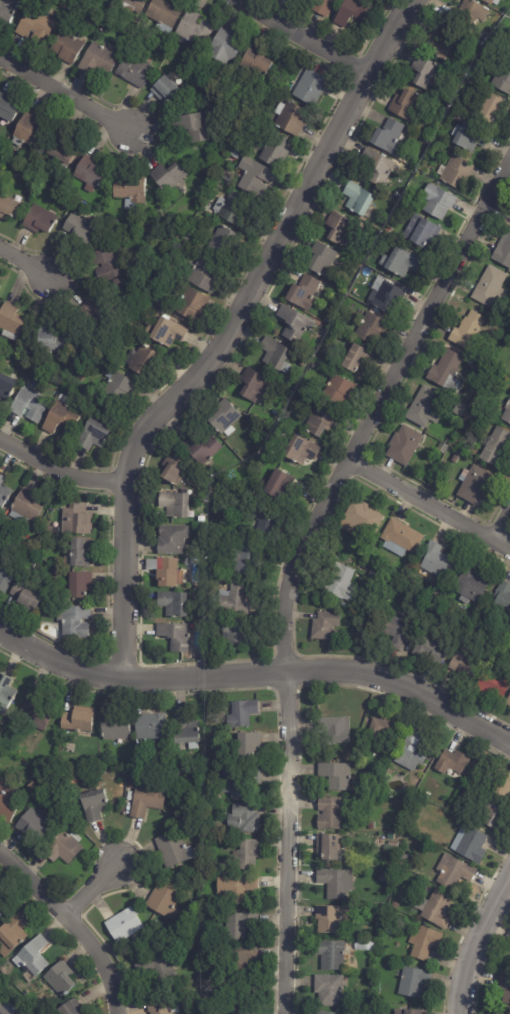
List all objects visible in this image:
building: (491, 2)
building: (62, 5)
building: (132, 5)
building: (320, 6)
building: (7, 12)
building: (71, 13)
building: (352, 13)
building: (163, 14)
building: (469, 15)
building: (35, 23)
building: (193, 29)
road: (297, 37)
building: (148, 40)
building: (134, 45)
building: (224, 46)
building: (443, 46)
building: (66, 48)
building: (97, 60)
building: (258, 61)
building: (166, 64)
building: (133, 70)
building: (423, 72)
building: (472, 75)
building: (502, 79)
building: (309, 88)
building: (165, 91)
road: (67, 94)
building: (404, 103)
building: (6, 109)
building: (490, 109)
building: (292, 120)
building: (191, 127)
building: (26, 131)
building: (389, 136)
building: (470, 138)
building: (425, 140)
building: (0, 143)
building: (58, 151)
building: (274, 151)
building: (234, 155)
building: (375, 166)
building: (421, 169)
building: (455, 172)
building: (89, 174)
building: (167, 175)
building: (254, 177)
building: (130, 192)
building: (357, 201)
building: (439, 203)
building: (8, 210)
building: (232, 211)
building: (39, 221)
building: (407, 223)
building: (79, 229)
building: (338, 229)
building: (424, 235)
building: (379, 241)
building: (224, 243)
building: (181, 248)
building: (503, 250)
building: (320, 260)
road: (24, 262)
building: (399, 263)
building: (107, 264)
building: (357, 264)
building: (371, 272)
building: (203, 275)
building: (488, 287)
building: (302, 293)
building: (385, 297)
building: (190, 303)
building: (85, 313)
building: (10, 322)
building: (327, 323)
building: (294, 325)
building: (370, 328)
road: (228, 331)
building: (466, 331)
building: (166, 333)
building: (49, 339)
building: (274, 355)
building: (356, 359)
building: (141, 361)
building: (302, 362)
building: (498, 366)
building: (446, 371)
building: (480, 376)
building: (115, 385)
building: (252, 385)
building: (6, 387)
building: (337, 392)
building: (28, 405)
building: (424, 408)
building: (506, 414)
building: (61, 416)
building: (223, 416)
building: (319, 422)
building: (265, 434)
building: (92, 436)
building: (403, 446)
building: (442, 448)
building: (201, 449)
building: (495, 449)
building: (303, 452)
building: (455, 458)
road: (60, 471)
building: (172, 471)
building: (274, 485)
building: (473, 485)
building: (3, 492)
building: (173, 506)
building: (25, 511)
road: (427, 517)
building: (201, 519)
building: (75, 521)
building: (360, 522)
building: (263, 525)
road: (501, 537)
building: (400, 539)
building: (170, 541)
building: (29, 545)
road: (292, 553)
building: (80, 555)
building: (245, 560)
building: (204, 563)
building: (436, 563)
building: (165, 573)
building: (5, 575)
building: (371, 577)
building: (400, 580)
building: (341, 583)
building: (78, 585)
building: (469, 585)
building: (41, 589)
building: (24, 596)
building: (234, 600)
building: (502, 602)
building: (175, 605)
building: (74, 622)
building: (323, 626)
building: (395, 632)
building: (233, 634)
building: (174, 637)
building: (432, 651)
building: (462, 666)
road: (257, 671)
building: (491, 686)
building: (5, 692)
building: (508, 702)
building: (37, 707)
building: (241, 714)
building: (78, 720)
building: (150, 726)
building: (115, 728)
building: (382, 728)
building: (335, 729)
building: (186, 730)
building: (246, 746)
building: (414, 749)
building: (451, 762)
building: (335, 775)
building: (36, 777)
building: (131, 779)
building: (239, 782)
building: (502, 784)
building: (464, 786)
building: (425, 798)
building: (376, 799)
building: (146, 800)
building: (8, 803)
building: (93, 804)
building: (197, 811)
building: (492, 812)
building: (330, 813)
building: (243, 819)
building: (416, 819)
building: (34, 825)
building: (371, 826)
building: (415, 826)
building: (393, 844)
building: (470, 845)
building: (62, 847)
building: (329, 848)
building: (173, 849)
building: (262, 852)
building: (247, 855)
building: (453, 871)
building: (403, 874)
building: (384, 877)
building: (333, 883)
building: (235, 887)
road: (92, 889)
building: (163, 900)
building: (206, 902)
building: (192, 903)
building: (3, 905)
building: (395, 906)
building: (435, 909)
building: (381, 911)
building: (330, 919)
road: (73, 922)
building: (123, 925)
building: (238, 925)
building: (194, 927)
building: (387, 930)
building: (11, 933)
building: (424, 943)
road: (475, 943)
building: (330, 955)
building: (239, 956)
building: (32, 957)
building: (157, 969)
building: (60, 978)
building: (413, 982)
building: (504, 989)
building: (328, 990)
building: (240, 997)
building: (162, 1006)
building: (70, 1008)
building: (3, 1011)
building: (409, 1012)
building: (329, 1013)

